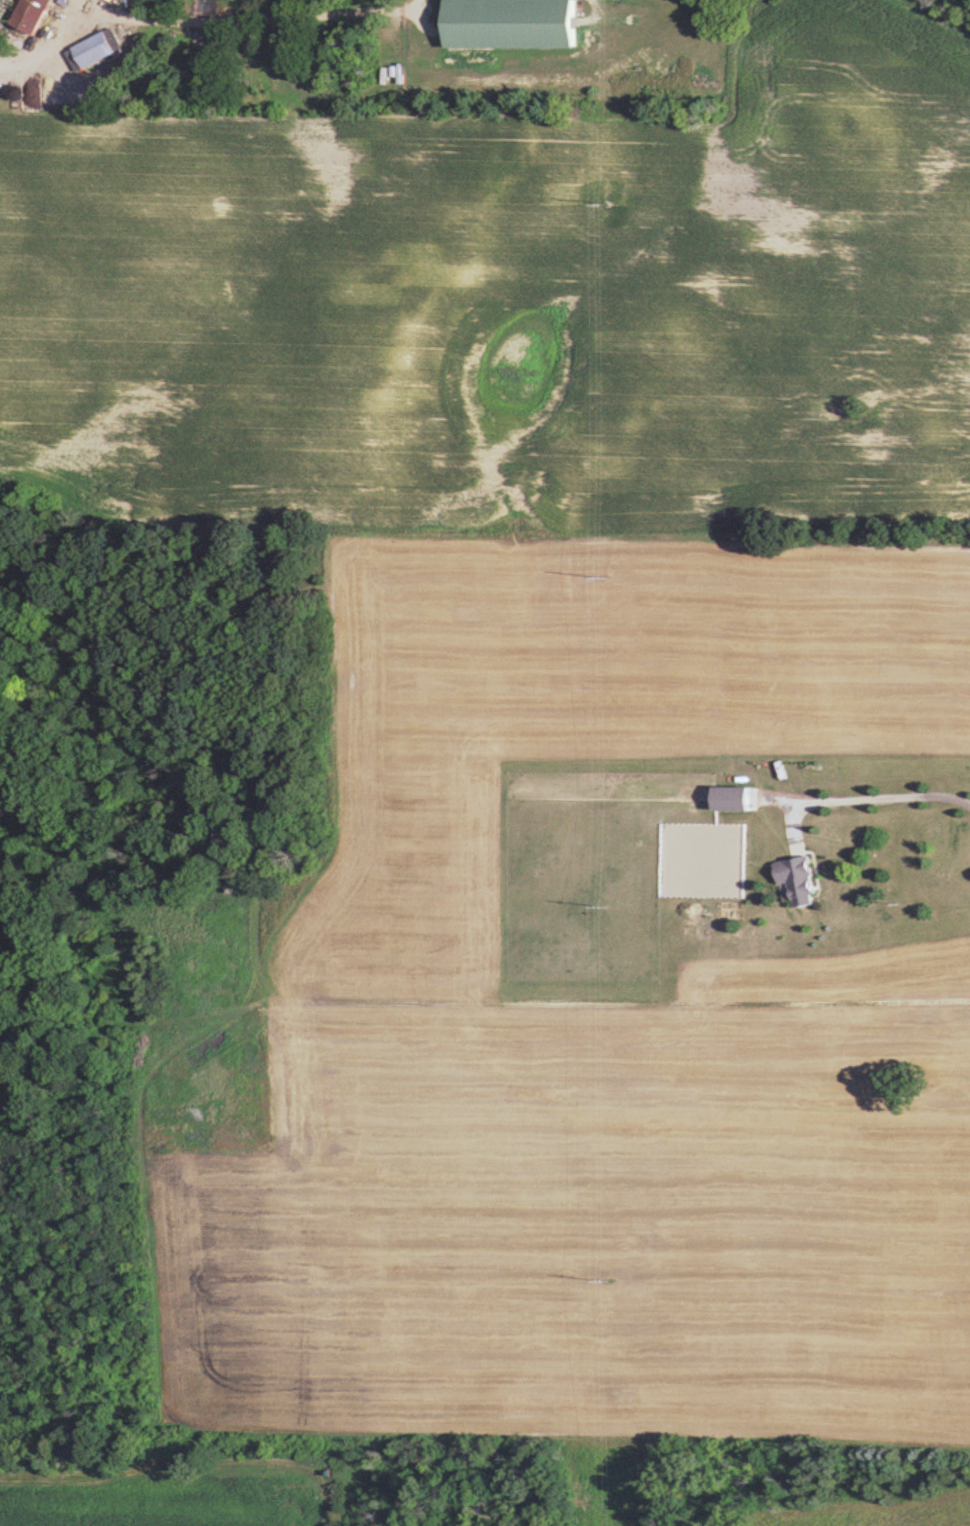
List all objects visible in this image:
building: (31, 15)
building: (508, 23)
road: (49, 43)
building: (93, 49)
building: (730, 798)
road: (881, 801)
building: (797, 880)

